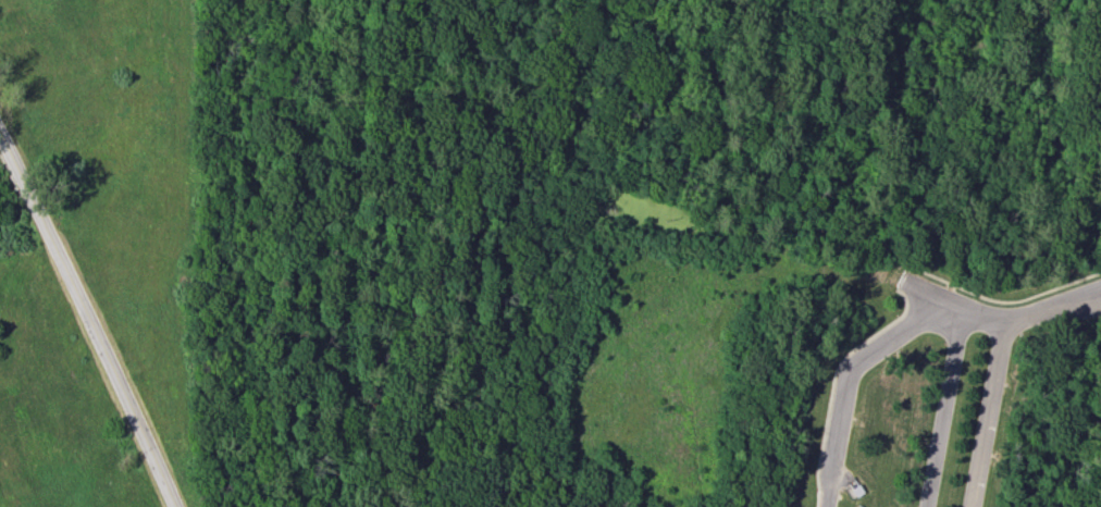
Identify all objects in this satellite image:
park: (461, 187)
park: (424, 205)
road: (317, 257)
road: (1093, 292)
road: (974, 294)
road: (1093, 298)
road: (90, 321)
road: (895, 331)
road: (941, 409)
road: (987, 411)

